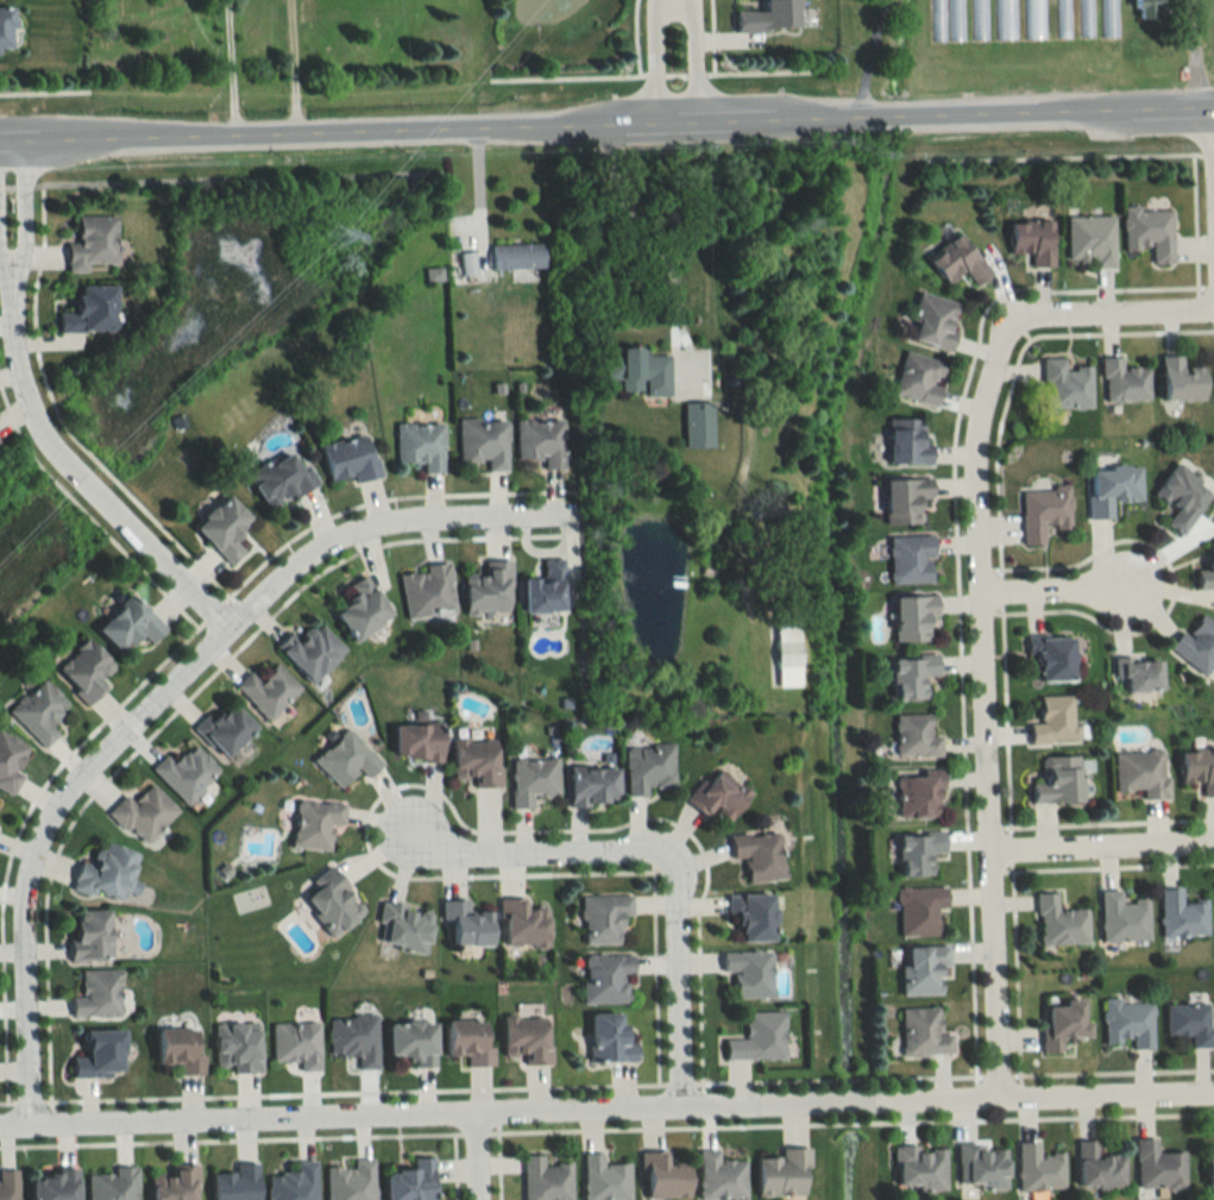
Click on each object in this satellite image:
building: (1146, 8)
building: (768, 17)
building: (1059, 18)
building: (1083, 18)
building: (1106, 18)
building: (975, 19)
building: (1002, 19)
building: (1031, 19)
building: (944, 20)
building: (4, 27)
road: (1193, 54)
road: (867, 57)
road: (692, 59)
road: (649, 61)
road: (291, 68)
road: (773, 68)
road: (229, 69)
road: (656, 70)
road: (697, 70)
road: (675, 71)
road: (570, 73)
road: (45, 87)
road: (606, 125)
road: (1209, 150)
road: (1063, 152)
road: (1209, 208)
road: (23, 211)
building: (1149, 232)
power tower: (335, 237)
road: (648, 237)
building: (1089, 240)
building: (1031, 241)
building: (92, 243)
building: (516, 256)
building: (958, 262)
building: (465, 263)
road: (5, 264)
building: (89, 310)
road: (1133, 314)
building: (932, 322)
building: (637, 371)
building: (918, 379)
building: (1181, 381)
building: (1124, 382)
building: (1065, 387)
building: (696, 425)
building: (540, 441)
building: (906, 441)
building: (483, 442)
building: (420, 445)
building: (350, 459)
road: (71, 470)
building: (281, 479)
building: (1111, 489)
building: (1182, 497)
building: (904, 500)
building: (1042, 513)
building: (224, 528)
building: (910, 559)
building: (1207, 571)
building: (488, 589)
building: (545, 589)
building: (427, 591)
road: (1048, 592)
building: (361, 609)
building: (912, 617)
building: (128, 624)
building: (1196, 643)
building: (310, 652)
building: (786, 653)
building: (1051, 656)
building: (84, 670)
building: (1139, 673)
building: (911, 676)
road: (976, 689)
building: (266, 691)
road: (157, 692)
building: (38, 711)
building: (1053, 720)
building: (225, 730)
building: (914, 737)
building: (416, 742)
building: (345, 759)
building: (473, 761)
building: (10, 762)
building: (648, 769)
building: (1199, 769)
building: (185, 773)
building: (1140, 773)
building: (531, 780)
building: (1057, 781)
building: (592, 786)
building: (717, 794)
building: (918, 798)
building: (143, 813)
building: (314, 823)
road: (526, 849)
road: (1097, 850)
building: (917, 853)
building: (757, 855)
building: (106, 874)
building: (332, 901)
building: (918, 910)
building: (1180, 915)
building: (751, 916)
building: (1121, 917)
building: (603, 918)
building: (1058, 922)
building: (466, 924)
building: (521, 924)
building: (402, 926)
building: (89, 934)
building: (921, 970)
building: (748, 973)
road: (680, 976)
building: (605, 979)
building: (98, 994)
building: (1126, 1023)
building: (1188, 1023)
building: (1062, 1024)
building: (921, 1032)
building: (353, 1038)
building: (526, 1038)
building: (608, 1038)
building: (757, 1038)
building: (295, 1043)
building: (413, 1043)
building: (467, 1043)
building: (237, 1047)
building: (178, 1051)
building: (100, 1055)
road: (606, 1110)
road: (476, 1156)
building: (1156, 1167)
building: (981, 1168)
building: (1097, 1168)
building: (918, 1169)
building: (1037, 1170)
building: (1209, 1171)
building: (782, 1175)
building: (662, 1177)
building: (719, 1177)
building: (603, 1179)
building: (543, 1180)
building: (350, 1181)
building: (410, 1182)
building: (235, 1183)
building: (294, 1183)
building: (8, 1185)
building: (55, 1185)
building: (113, 1185)
building: (175, 1185)

